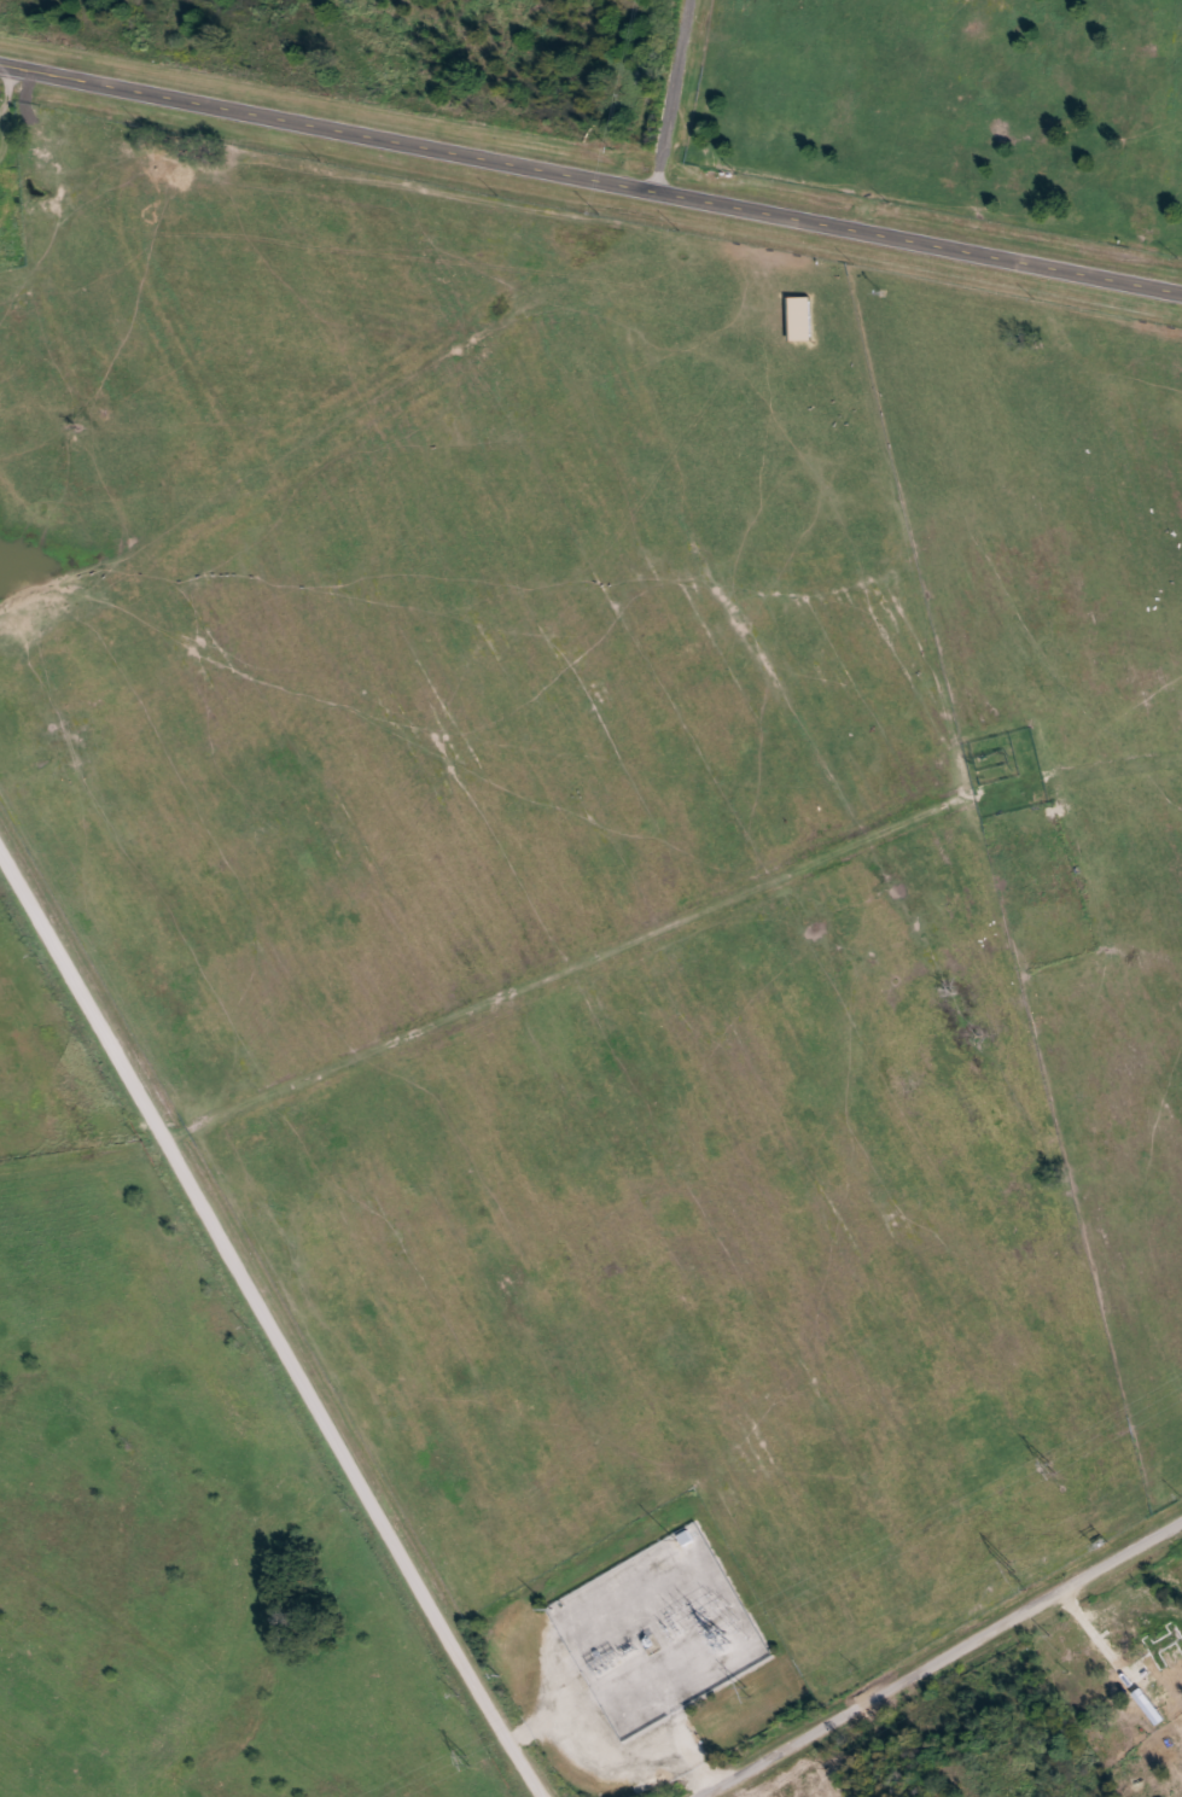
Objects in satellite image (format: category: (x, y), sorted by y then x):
road: (676, 95)
road: (589, 170)
road: (274, 1320)
road: (942, 1659)

